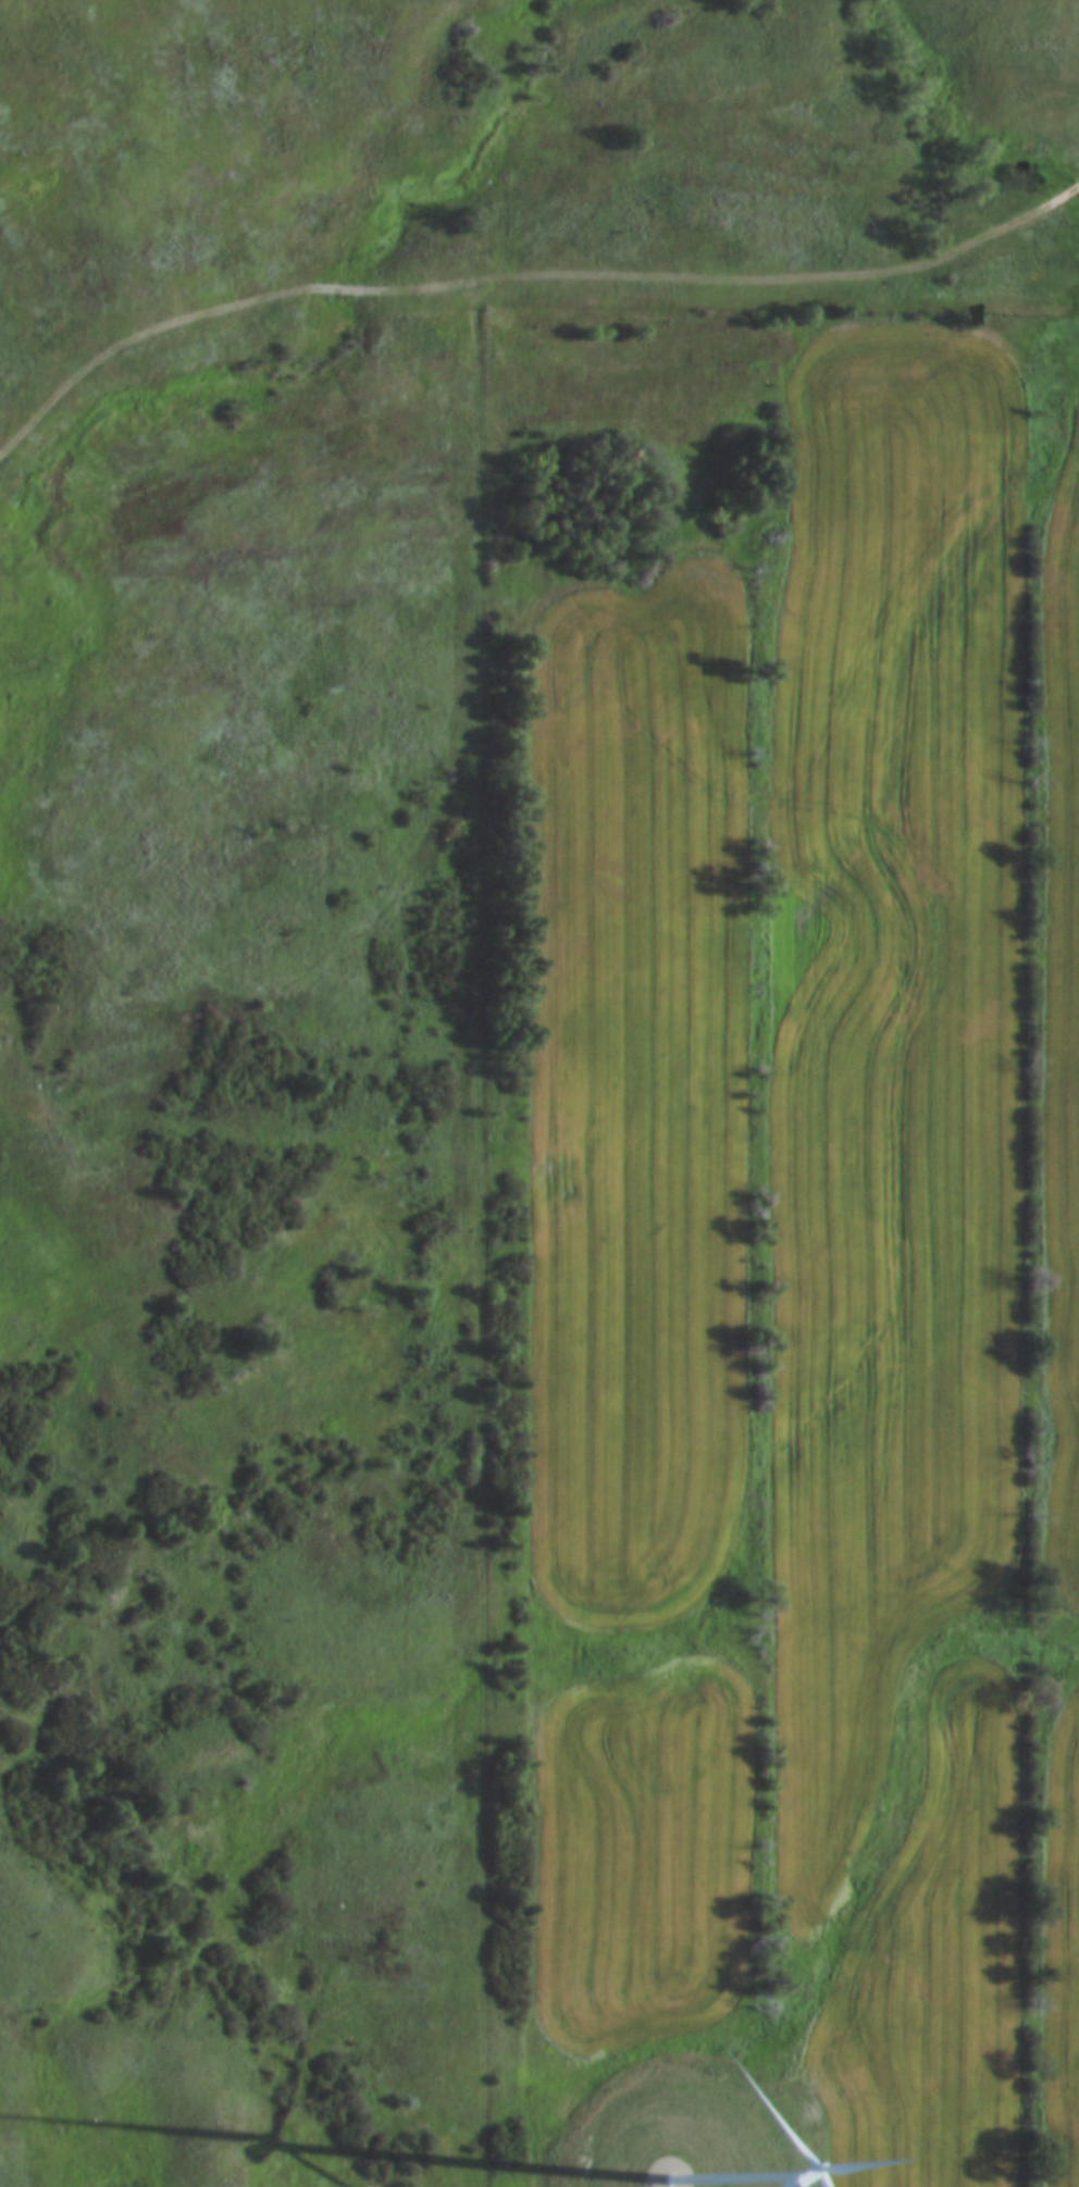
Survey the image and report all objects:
wind turbine: (670, 2180)

